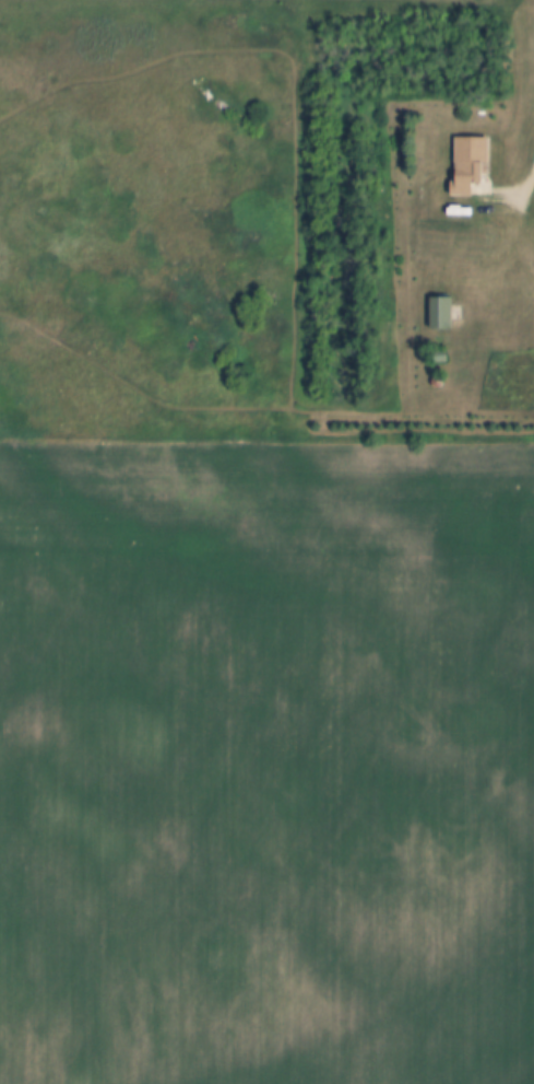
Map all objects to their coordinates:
building: (470, 167)
road: (520, 187)
building: (438, 314)
building: (439, 341)

